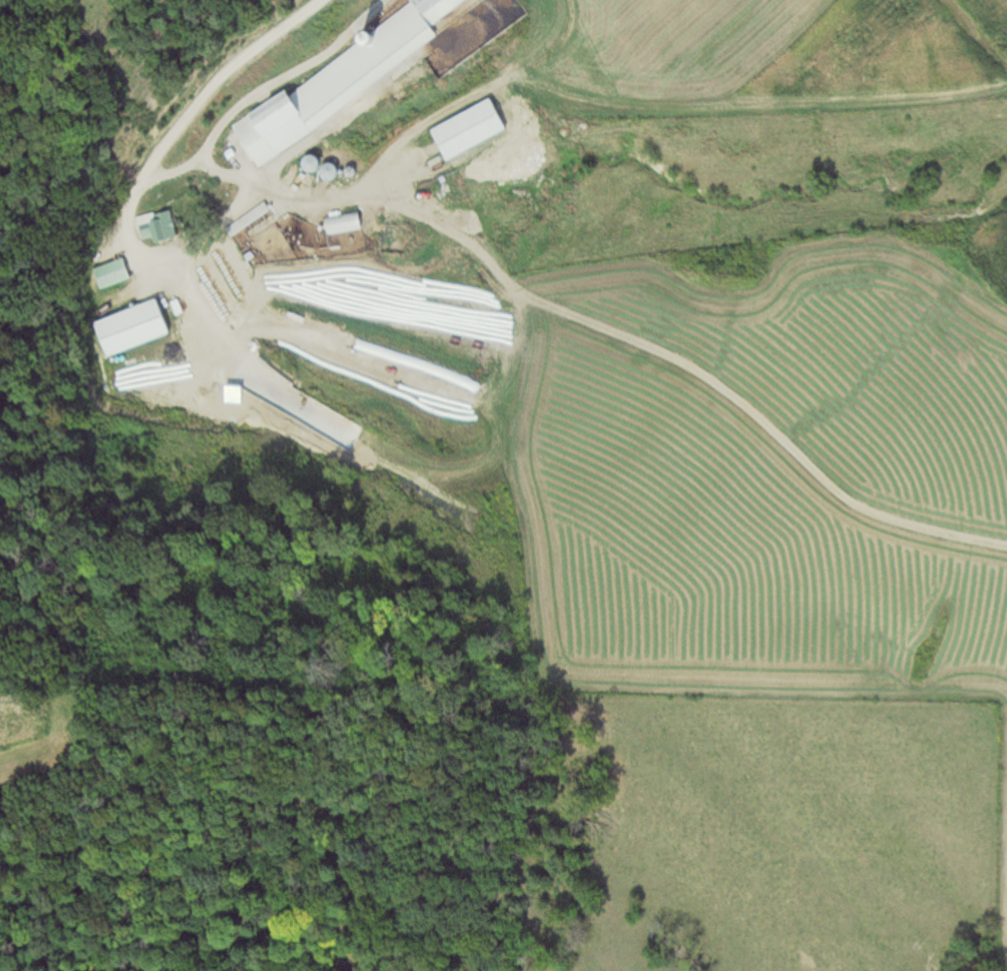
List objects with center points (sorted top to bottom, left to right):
building: (443, 12)
building: (259, 66)
road: (217, 75)
building: (278, 129)
building: (476, 129)
building: (161, 226)
building: (115, 273)
building: (138, 328)

